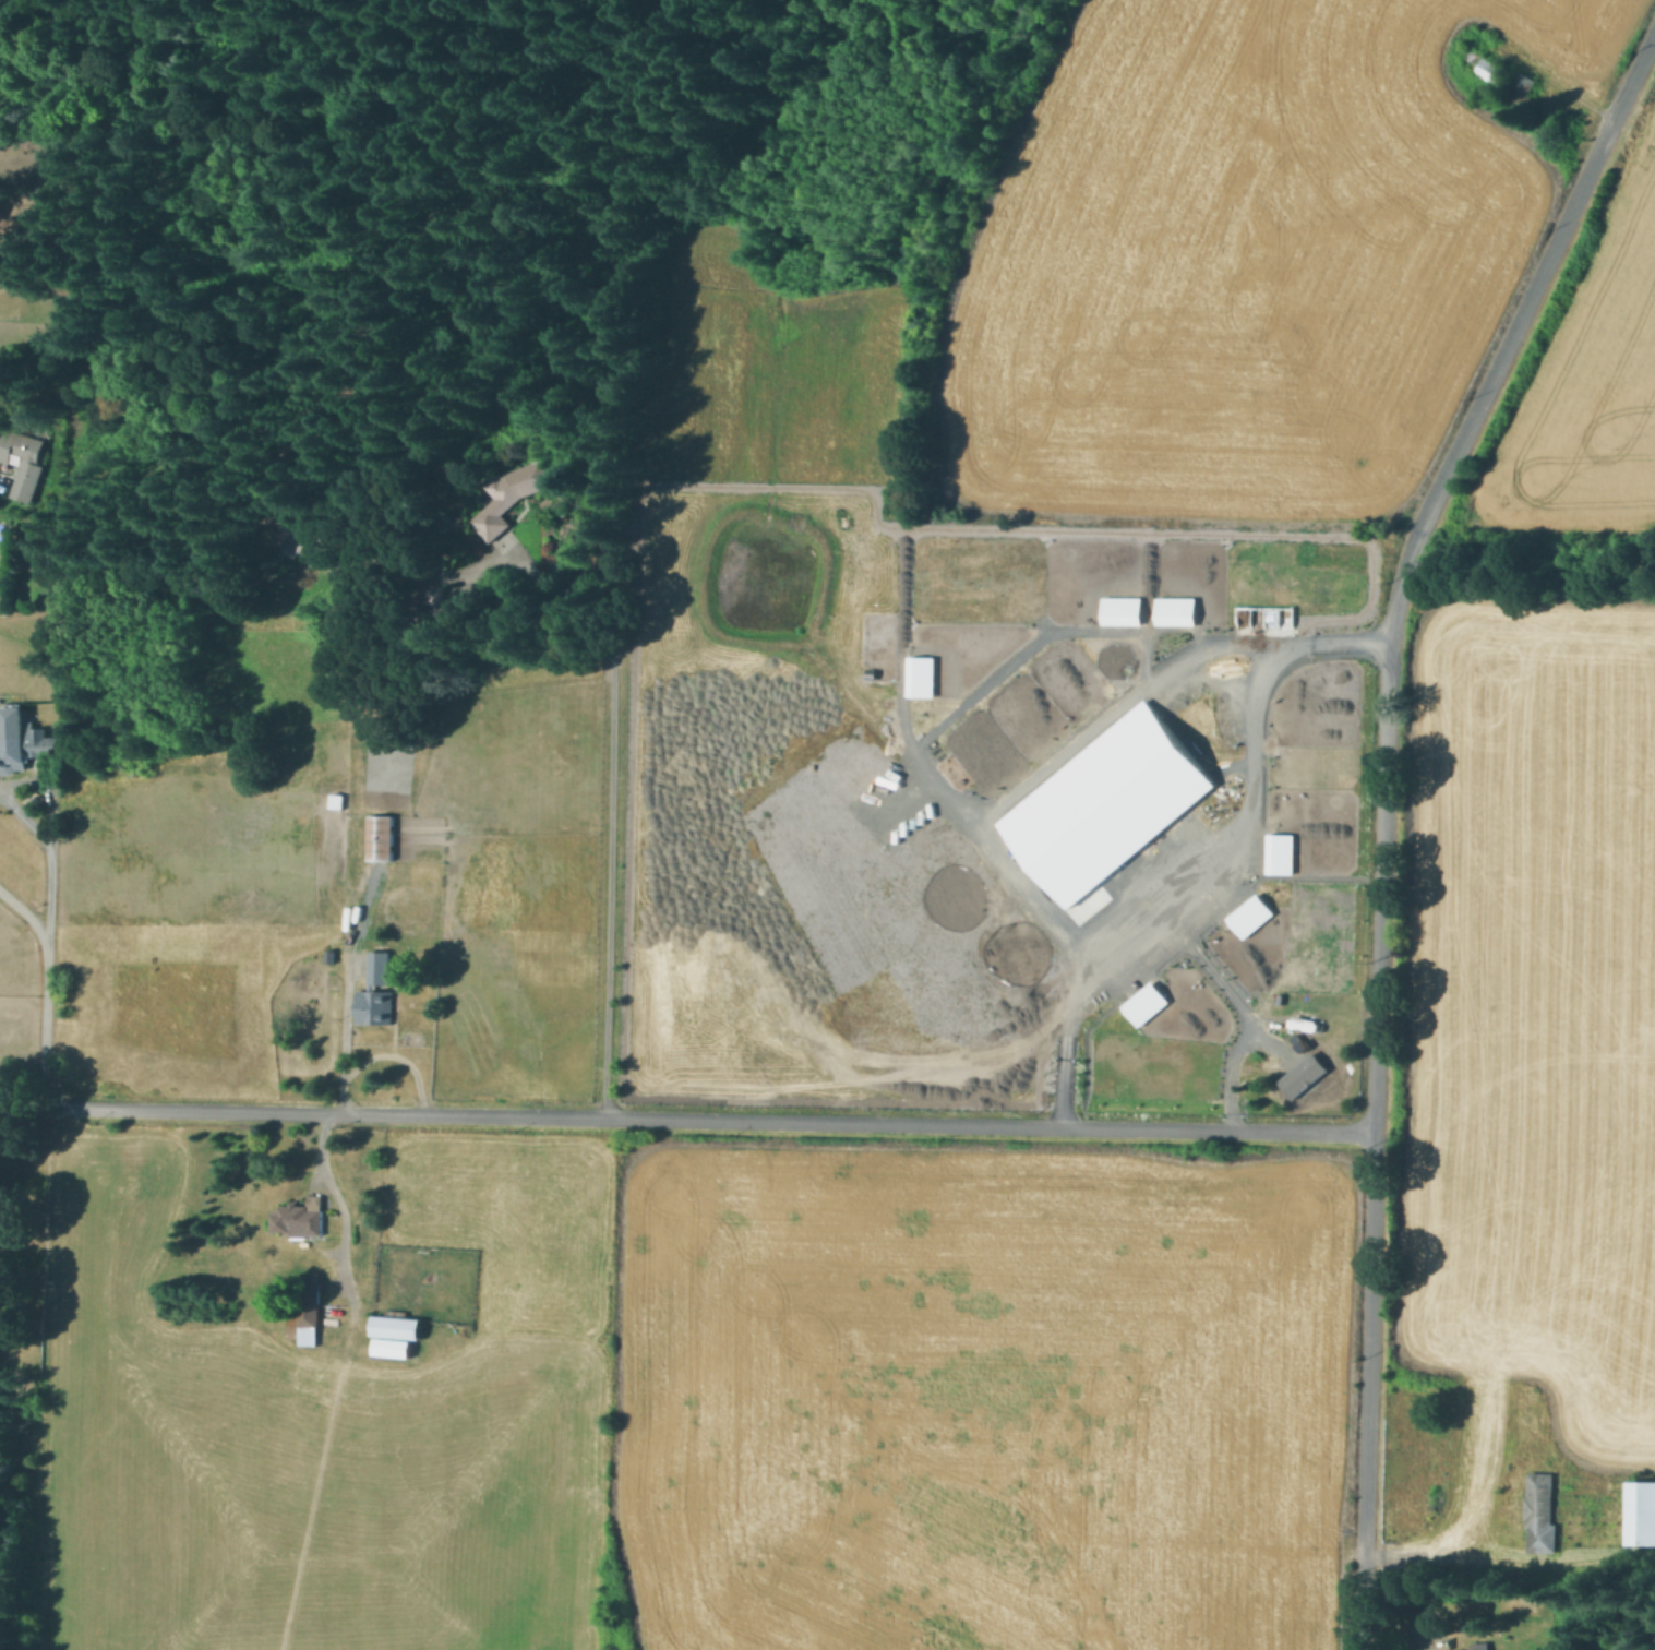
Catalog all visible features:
building: (1490, 70)
road: (1551, 80)
building: (1519, 91)
crop: (1240, 256)
crop: (1587, 378)
building: (16, 445)
building: (513, 495)
road: (1056, 528)
building: (43, 549)
building: (465, 595)
building: (439, 599)
building: (1119, 609)
building: (1174, 609)
road: (901, 637)
road: (1033, 642)
road: (734, 648)
building: (919, 677)
road: (1116, 704)
building: (1221, 712)
building: (24, 730)
building: (1105, 802)
building: (886, 808)
road: (1384, 812)
road: (609, 815)
road: (29, 828)
road: (52, 836)
building: (383, 838)
building: (1278, 852)
road: (1233, 862)
road: (997, 864)
building: (1248, 914)
road: (347, 950)
building: (332, 956)
building: (381, 968)
road: (625, 980)
road: (44, 989)
building: (1143, 1002)
building: (376, 1007)
crop: (1536, 1009)
road: (1245, 1013)
road: (382, 1054)
road: (687, 1119)
road: (337, 1199)
building: (301, 1218)
building: (310, 1313)
building: (394, 1326)
building: (389, 1347)
crop: (978, 1395)
building: (1641, 1512)
building: (1542, 1515)
road: (1491, 1558)
building: (1477, 1646)

